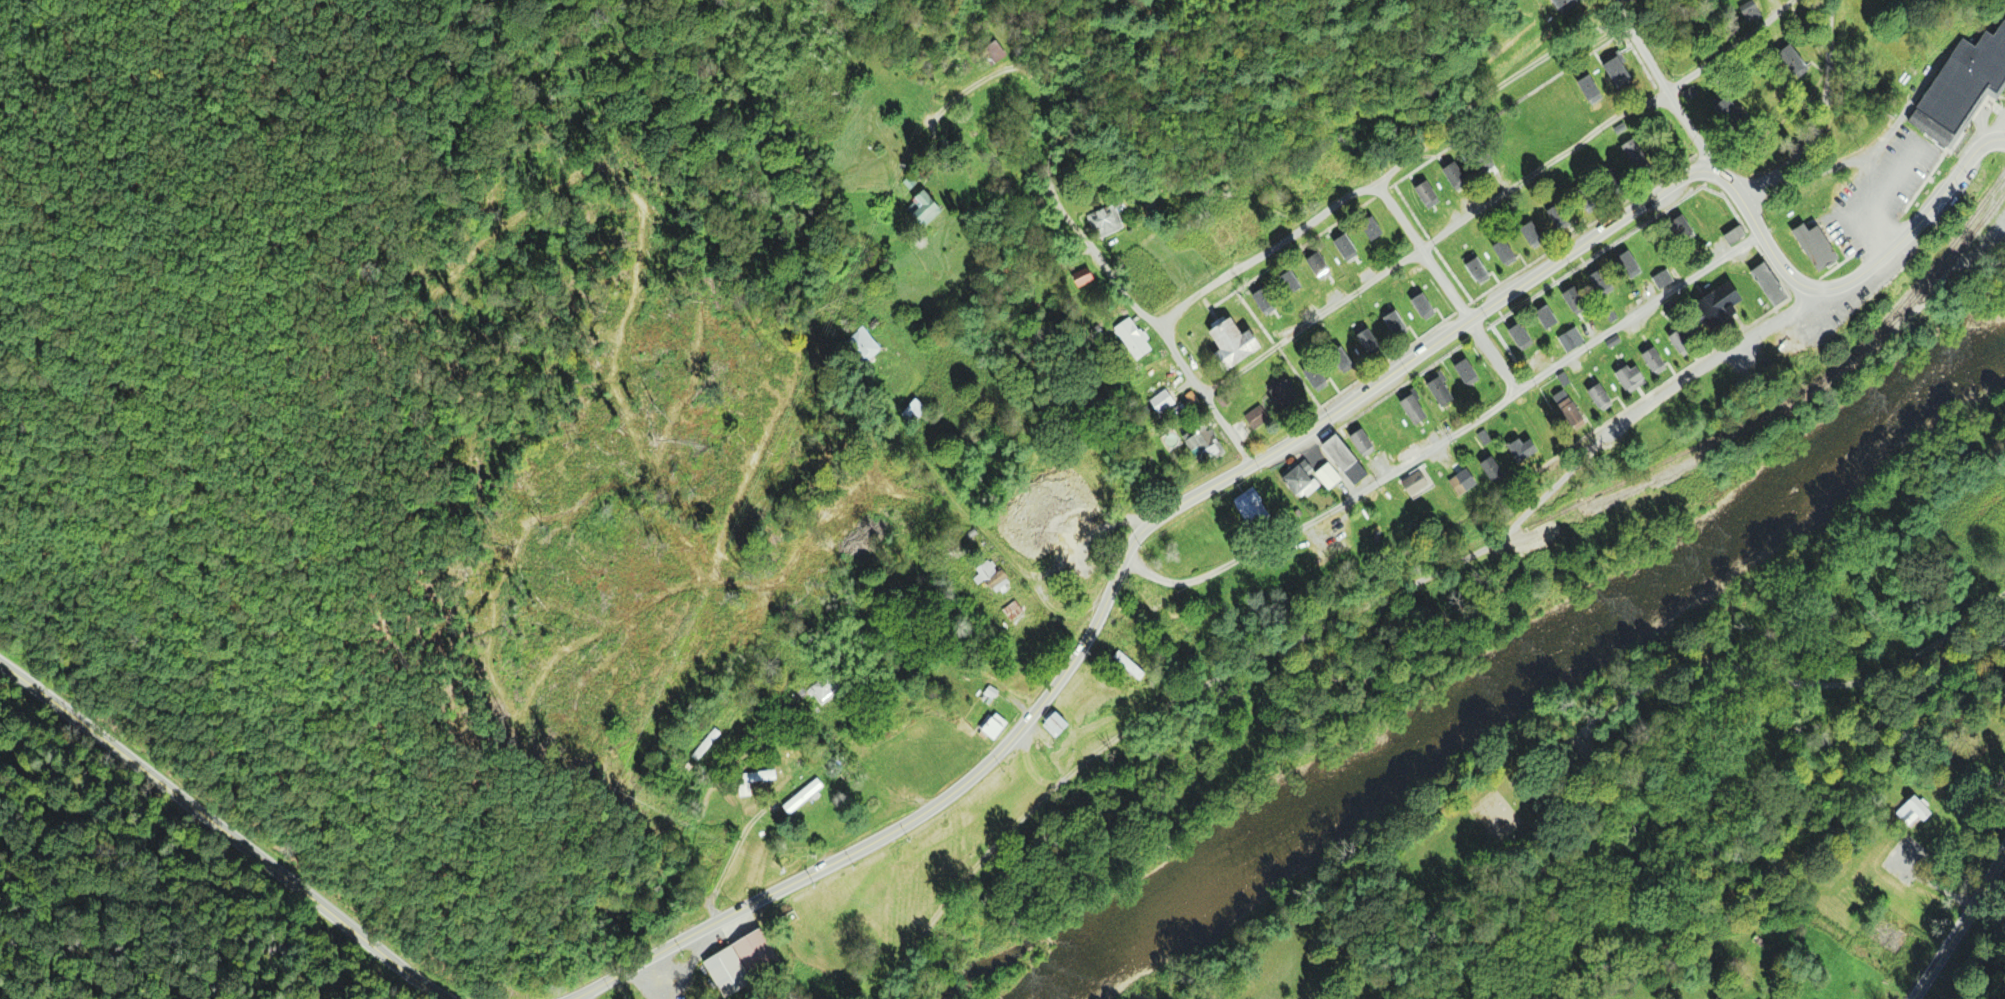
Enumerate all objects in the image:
building: (1564, 3)
building: (1752, 11)
building: (995, 53)
building: (1798, 61)
building: (1620, 70)
road: (1666, 89)
building: (1593, 91)
building: (1961, 91)
building: (1733, 112)
road: (1816, 115)
road: (2000, 133)
building: (1637, 153)
building: (1485, 156)
road: (1392, 172)
building: (1454, 175)
building: (1612, 180)
building: (1426, 194)
road: (1497, 199)
building: (1586, 199)
building: (927, 210)
building: (1557, 214)
building: (1107, 223)
road: (1919, 223)
building: (1373, 229)
building: (1687, 231)
road: (1070, 233)
building: (1533, 235)
building: (1737, 235)
road: (1762, 236)
building: (1818, 247)
building: (1348, 248)
building: (1505, 253)
railway: (1940, 260)
building: (1321, 264)
building: (1630, 265)
building: (1478, 270)
building: (1084, 275)
building: (1664, 278)
building: (1604, 280)
building: (1291, 282)
building: (1771, 284)
road: (1446, 291)
building: (1576, 298)
building: (1265, 300)
building: (1422, 302)
building: (1718, 308)
building: (1547, 319)
building: (1395, 320)
building: (1519, 336)
building: (1133, 340)
building: (1366, 340)
building: (1686, 340)
building: (1613, 342)
building: (1236, 345)
building: (862, 348)
building: (1341, 358)
building: (1657, 361)
building: (1164, 365)
building: (1467, 371)
road: (1393, 374)
building: (1315, 376)
road: (1694, 376)
building: (1630, 377)
building: (1440, 391)
building: (1286, 394)
building: (1599, 394)
building: (1163, 401)
building: (1415, 410)
building: (1571, 410)
railway: (1766, 412)
building: (914, 413)
building: (1258, 418)
building: (1363, 439)
road: (1449, 440)
building: (1205, 446)
building: (1522, 449)
park: (1549, 454)
building: (1345, 459)
building: (1495, 471)
building: (1329, 477)
building: (1299, 479)
building: (1463, 482)
building: (1418, 484)
building: (1251, 507)
road: (1520, 508)
road: (985, 536)
building: (997, 580)
building: (1013, 611)
building: (1131, 668)
river: (1527, 673)
road: (1766, 685)
building: (825, 688)
building: (1056, 726)
building: (991, 727)
road: (1143, 733)
building: (909, 739)
building: (706, 744)
road: (695, 774)
building: (760, 778)
road: (575, 781)
building: (804, 796)
building: (1918, 808)
building: (1536, 810)
road: (226, 835)
road: (870, 840)
road: (1985, 850)
road: (1964, 925)
building: (758, 956)
building: (728, 973)

